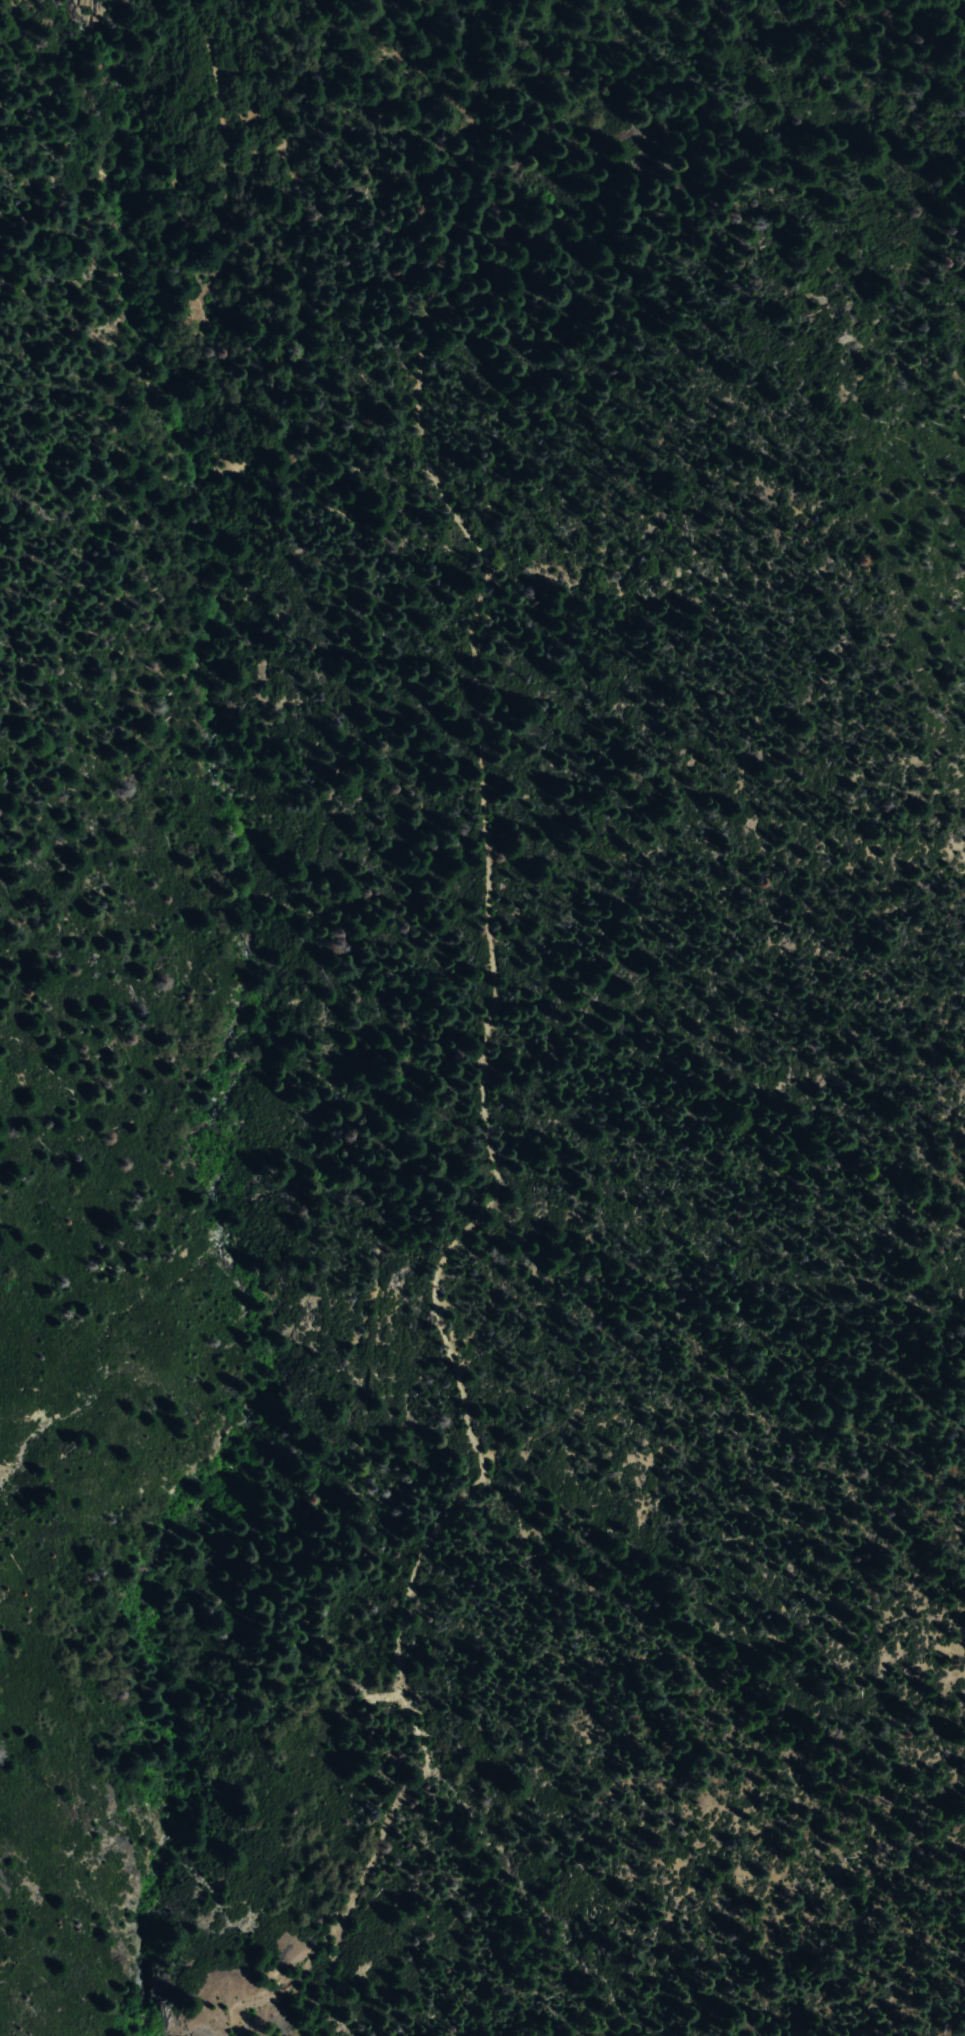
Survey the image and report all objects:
road: (221, 113)
road: (478, 143)
road: (480, 1060)
road: (321, 1967)

